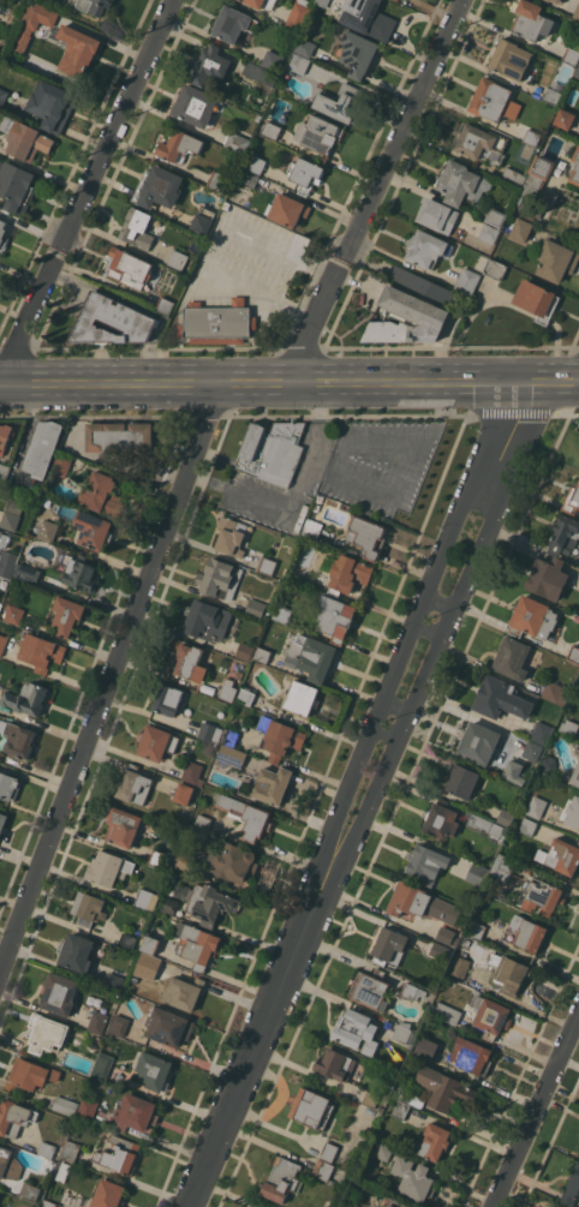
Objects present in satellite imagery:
building: (399, 0)
building: (549, 0)
building: (556, 1)
building: (261, 2)
building: (323, 2)
building: (94, 6)
building: (0, 7)
building: (577, 11)
building: (298, 14)
building: (38, 16)
building: (368, 18)
building: (531, 20)
building: (233, 23)
building: (24, 42)
building: (305, 47)
building: (76, 49)
building: (357, 52)
building: (571, 55)
building: (509, 59)
building: (273, 60)
building: (210, 65)
building: (305, 66)
building: (259, 72)
building: (577, 72)
building: (553, 95)
building: (2, 96)
building: (494, 100)
building: (339, 101)
building: (52, 104)
building: (195, 104)
building: (565, 118)
road: (406, 127)
building: (270, 130)
building: (318, 133)
building: (532, 137)
road: (114, 138)
building: (24, 139)
building: (237, 142)
building: (478, 142)
building: (178, 145)
building: (256, 163)
building: (542, 167)
building: (575, 167)
building: (305, 174)
building: (513, 177)
building: (249, 178)
building: (217, 180)
building: (461, 183)
building: (16, 186)
building: (162, 187)
building: (530, 195)
building: (287, 209)
building: (437, 215)
building: (495, 216)
building: (202, 222)
building: (141, 227)
building: (521, 228)
building: (489, 233)
building: (2, 235)
road: (217, 249)
building: (426, 249)
building: (178, 259)
building: (557, 259)
building: (129, 268)
building: (495, 268)
building: (467, 281)
building: (422, 285)
building: (155, 288)
building: (536, 299)
building: (165, 305)
building: (573, 306)
road: (320, 318)
building: (406, 318)
building: (112, 321)
building: (217, 323)
road: (26, 330)
road: (289, 383)
road: (318, 410)
building: (5, 434)
road: (346, 436)
building: (119, 437)
road: (507, 437)
building: (43, 448)
building: (273, 450)
building: (61, 464)
building: (4, 471)
building: (101, 494)
building: (572, 500)
building: (11, 514)
building: (43, 528)
building: (311, 528)
building: (92, 530)
building: (565, 534)
building: (231, 536)
building: (368, 536)
building: (4, 539)
building: (7, 563)
building: (265, 564)
building: (78, 572)
building: (28, 573)
building: (348, 574)
building: (548, 578)
building: (220, 579)
building: (0, 603)
road: (440, 603)
building: (255, 608)
building: (281, 613)
building: (14, 614)
building: (66, 615)
building: (334, 616)
building: (533, 617)
building: (205, 621)
road: (429, 631)
building: (2, 644)
building: (40, 651)
building: (244, 651)
building: (573, 653)
building: (262, 655)
building: (311, 656)
building: (513, 658)
building: (189, 661)
road: (393, 680)
road: (112, 681)
building: (577, 687)
building: (228, 689)
road: (419, 691)
building: (556, 692)
building: (245, 695)
building: (26, 698)
building: (302, 698)
building: (501, 698)
building: (167, 699)
road: (399, 705)
building: (568, 727)
building: (209, 733)
building: (542, 733)
road: (387, 734)
building: (229, 736)
building: (279, 737)
building: (19, 739)
building: (157, 742)
building: (480, 742)
building: (521, 749)
building: (229, 757)
building: (548, 764)
building: (514, 771)
building: (192, 773)
building: (575, 775)
building: (462, 779)
building: (133, 784)
building: (271, 784)
building: (7, 785)
building: (184, 793)
building: (536, 806)
building: (571, 811)
building: (246, 815)
building: (506, 817)
building: (441, 819)
building: (2, 821)
building: (202, 821)
building: (123, 825)
building: (488, 826)
building: (527, 826)
building: (186, 855)
building: (560, 855)
building: (160, 858)
building: (233, 862)
building: (426, 864)
building: (501, 867)
building: (108, 868)
building: (476, 873)
building: (503, 898)
building: (542, 898)
building: (147, 900)
building: (168, 903)
building: (210, 903)
building: (422, 903)
building: (89, 909)
building: (477, 930)
building: (529, 933)
building: (446, 934)
building: (127, 942)
building: (150, 944)
building: (196, 944)
building: (389, 946)
building: (438, 950)
building: (77, 951)
building: (459, 964)
building: (512, 973)
building: (113, 982)
building: (143, 986)
building: (370, 988)
building: (412, 991)
building: (184, 992)
building: (59, 993)
building: (446, 1012)
building: (491, 1017)
building: (97, 1022)
building: (120, 1024)
building: (168, 1026)
building: (426, 1028)
building: (357, 1030)
building: (401, 1032)
building: (47, 1033)
road: (262, 1044)
building: (425, 1047)
building: (471, 1056)
building: (103, 1063)
building: (335, 1064)
building: (154, 1070)
building: (30, 1074)
building: (444, 1088)
building: (410, 1095)
building: (370, 1099)
building: (65, 1105)
building: (311, 1107)
building: (88, 1109)
building: (400, 1110)
building: (136, 1113)
road: (536, 1113)
building: (14, 1117)
building: (434, 1141)
building: (47, 1148)
building: (383, 1149)
building: (70, 1151)
building: (329, 1152)
building: (119, 1154)
building: (8, 1163)
building: (345, 1164)
building: (323, 1170)
building: (62, 1171)
building: (413, 1178)
building: (282, 1179)
building: (572, 1187)
building: (30, 1191)
building: (108, 1194)
building: (393, 1202)
building: (48, 1203)
building: (352, 1206)

